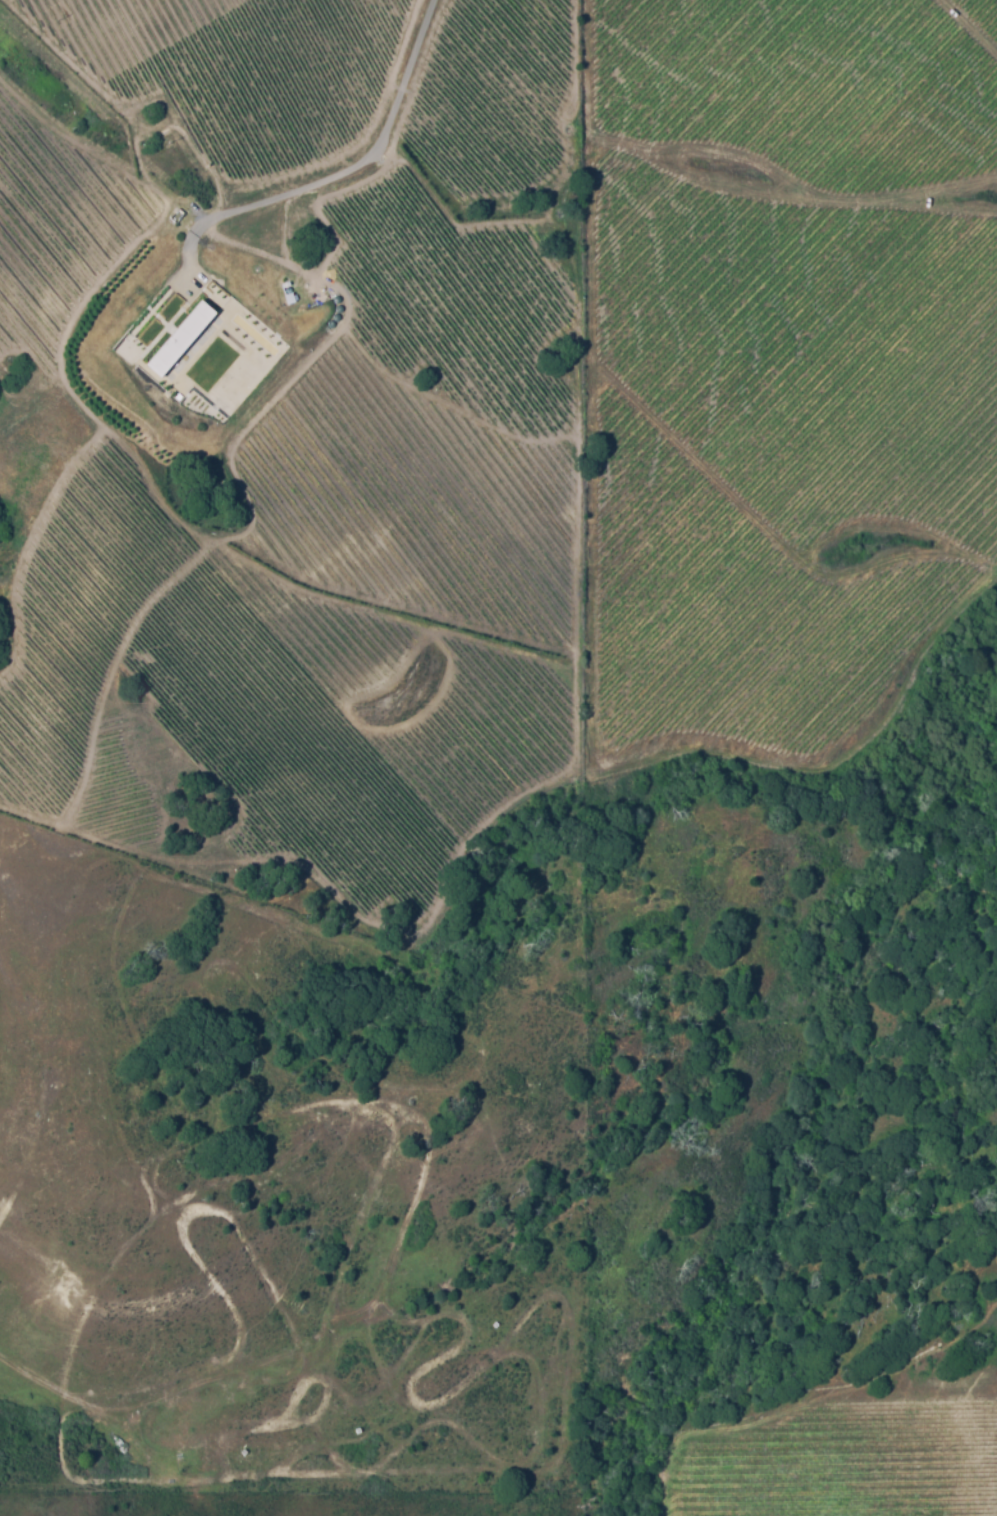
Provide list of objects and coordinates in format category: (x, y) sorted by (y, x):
crop: (986, 10)
crop: (238, 67)
crop: (806, 84)
crop: (497, 93)
road: (336, 183)
crop: (56, 226)
crop: (456, 298)
building: (178, 343)
crop: (812, 345)
crop: (412, 497)
crop: (736, 609)
crop: (78, 622)
crop: (325, 725)
crop: (851, 1466)

